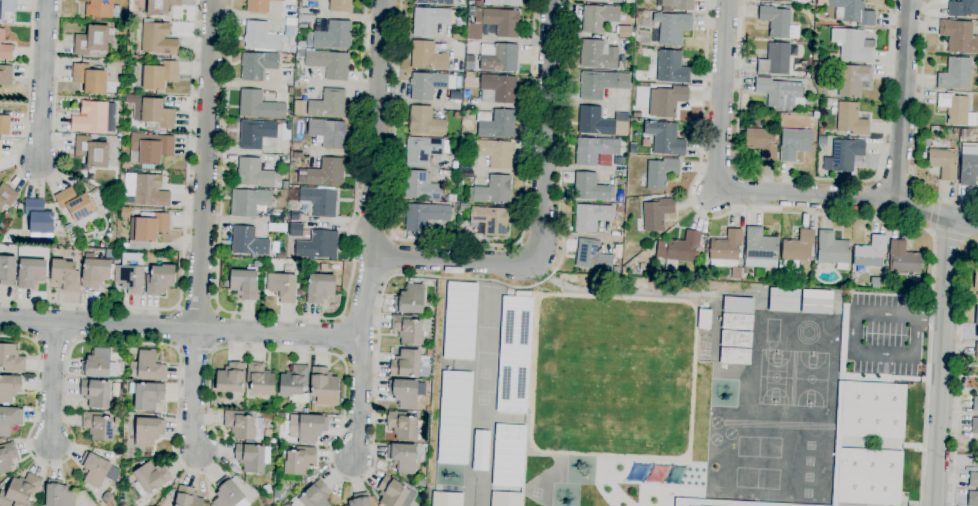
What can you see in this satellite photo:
building: (311, 1)
building: (604, 1)
building: (775, 1)
building: (435, 2)
building: (478, 3)
building: (503, 3)
building: (299, 4)
building: (677, 5)
building: (259, 6)
building: (340, 6)
building: (7, 7)
building: (160, 7)
building: (101, 9)
building: (963, 9)
building: (852, 12)
building: (638, 14)
building: (598, 18)
building: (431, 20)
building: (304, 21)
building: (493, 23)
building: (778, 23)
building: (671, 29)
building: (625, 32)
building: (331, 36)
building: (458, 37)
building: (959, 37)
building: (157, 38)
building: (265, 38)
building: (92, 41)
building: (852, 45)
building: (4, 47)
building: (637, 51)
building: (300, 53)
building: (600, 56)
building: (427, 57)
building: (832, 57)
building: (498, 58)
building: (777, 59)
building: (329, 64)
building: (815, 64)
building: (257, 66)
building: (468, 66)
building: (671, 68)
building: (807, 74)
building: (955, 74)
building: (5, 75)
building: (154, 76)
building: (90, 79)
building: (853, 80)
road: (42, 82)
building: (427, 85)
building: (596, 85)
building: (499, 88)
building: (780, 93)
road: (721, 95)
road: (903, 100)
building: (669, 101)
building: (322, 105)
building: (259, 106)
building: (956, 110)
building: (157, 113)
building: (456, 115)
building: (91, 118)
building: (851, 119)
building: (425, 122)
building: (594, 122)
building: (4, 124)
building: (496, 124)
road: (917, 126)
building: (821, 131)
road: (545, 132)
building: (955, 132)
building: (253, 133)
building: (328, 133)
building: (665, 138)
building: (761, 142)
building: (795, 144)
building: (0, 149)
building: (148, 149)
building: (424, 150)
building: (594, 150)
building: (91, 151)
building: (494, 153)
building: (846, 155)
building: (297, 156)
building: (466, 160)
building: (620, 161)
road: (205, 163)
building: (943, 163)
building: (454, 165)
road: (374, 169)
building: (968, 169)
building: (323, 173)
building: (660, 173)
building: (257, 175)
road: (810, 179)
road: (38, 182)
building: (420, 187)
building: (591, 188)
building: (146, 190)
building: (494, 191)
building: (7, 196)
building: (619, 197)
road: (848, 197)
building: (319, 201)
building: (248, 202)
building: (77, 206)
building: (619, 209)
building: (125, 212)
building: (657, 214)
road: (933, 214)
building: (424, 216)
building: (40, 217)
building: (590, 217)
road: (843, 217)
building: (489, 221)
building: (68, 228)
building: (147, 229)
building: (72, 236)
road: (952, 236)
road: (183, 242)
building: (248, 242)
road: (459, 244)
building: (760, 245)
building: (317, 246)
building: (798, 247)
building: (678, 250)
building: (833, 250)
building: (727, 252)
building: (870, 253)
building: (592, 256)
building: (903, 259)
road: (454, 260)
building: (267, 263)
building: (334, 267)
building: (642, 267)
building: (7, 270)
building: (615, 270)
building: (30, 273)
building: (95, 273)
building: (65, 275)
building: (705, 275)
building: (130, 278)
building: (976, 279)
building: (159, 280)
building: (243, 283)
building: (283, 285)
building: (320, 288)
building: (410, 300)
building: (782, 300)
building: (815, 301)
road: (197, 309)
road: (283, 316)
road: (930, 316)
building: (459, 321)
building: (737, 322)
road: (180, 327)
building: (407, 329)
building: (977, 331)
building: (736, 339)
building: (976, 350)
road: (854, 353)
building: (513, 354)
road: (332, 355)
building: (735, 356)
building: (11, 359)
road: (942, 362)
building: (97, 363)
building: (409, 364)
building: (147, 367)
road: (958, 369)
building: (230, 378)
park: (776, 378)
building: (260, 379)
park: (811, 379)
road: (53, 383)
building: (295, 384)
building: (323, 386)
building: (9, 388)
road: (193, 389)
building: (95, 392)
building: (405, 393)
building: (147, 395)
road: (359, 397)
building: (975, 404)
building: (873, 410)
building: (281, 414)
building: (453, 417)
building: (9, 420)
building: (239, 424)
building: (402, 425)
building: (98, 426)
building: (974, 426)
building: (307, 428)
building: (148, 433)
building: (272, 441)
building: (837, 443)
building: (507, 455)
building: (7, 457)
building: (250, 457)
building: (402, 457)
building: (298, 461)
building: (97, 470)
building: (869, 477)
building: (973, 479)
building: (149, 482)
building: (266, 489)
building: (21, 491)
building: (227, 493)
building: (394, 493)
building: (58, 494)
building: (277, 494)
building: (315, 495)
building: (107, 497)
building: (188, 497)
building: (972, 498)
building: (445, 499)
building: (358, 500)
building: (708, 503)
building: (206, 504)
building: (769, 505)

